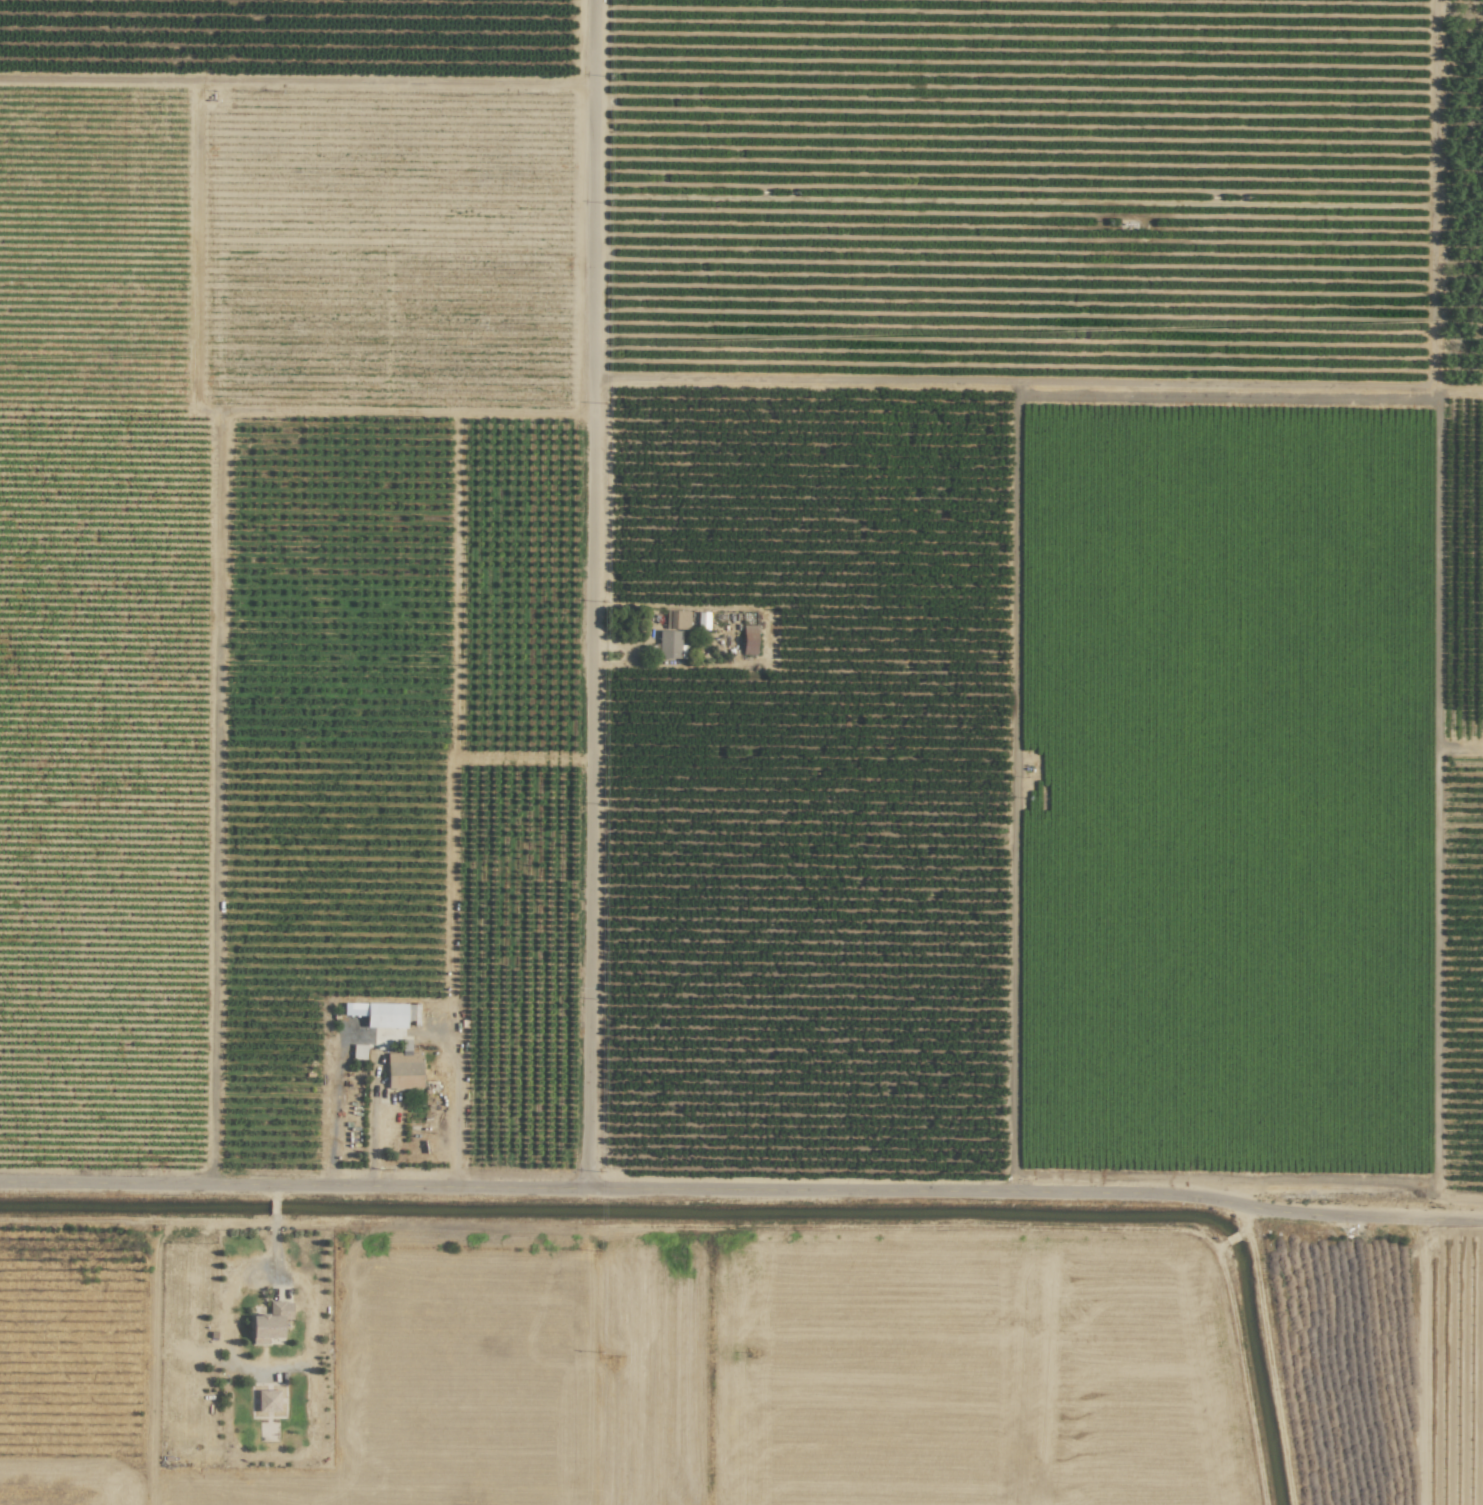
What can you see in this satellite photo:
road: (591, 592)
building: (676, 619)
building: (702, 620)
building: (748, 640)
building: (670, 645)
building: (384, 1013)
road: (412, 1036)
building: (405, 1047)
building: (404, 1081)
road: (336, 1092)
road: (742, 1187)
road: (272, 1192)
road: (273, 1207)
road: (1243, 1221)
road: (1231, 1237)
road: (1219, 1243)
road: (272, 1249)
building: (269, 1324)
building: (267, 1400)

